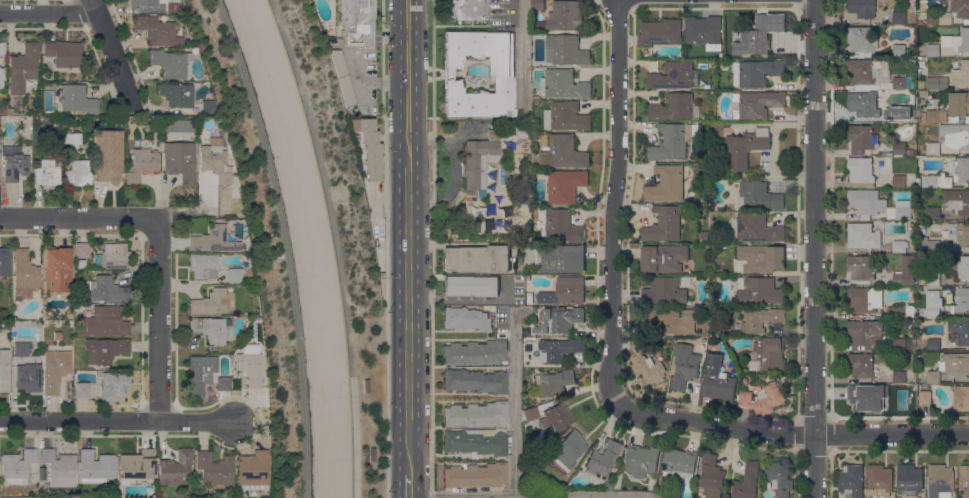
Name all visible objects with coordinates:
building: (142, 4)
building: (537, 4)
building: (171, 6)
building: (862, 8)
building: (960, 8)
building: (465, 10)
road: (49, 14)
building: (565, 15)
building: (899, 17)
building: (938, 17)
building: (354, 22)
building: (703, 30)
building: (158, 31)
building: (660, 33)
building: (755, 36)
building: (861, 39)
building: (958, 40)
building: (2, 48)
building: (565, 50)
building: (898, 50)
building: (933, 50)
road: (112, 52)
building: (921, 52)
building: (63, 53)
road: (524, 59)
building: (0, 61)
building: (171, 63)
building: (22, 68)
building: (755, 72)
building: (863, 72)
building: (961, 73)
building: (502, 75)
building: (672, 76)
building: (2, 77)
building: (341, 78)
building: (904, 82)
building: (937, 83)
road: (369, 84)
building: (563, 84)
building: (175, 95)
building: (535, 97)
building: (77, 100)
building: (862, 103)
building: (959, 103)
building: (756, 104)
building: (207, 106)
building: (672, 107)
building: (9, 112)
building: (918, 114)
building: (903, 115)
building: (936, 115)
building: (566, 116)
building: (10, 119)
building: (46, 122)
building: (726, 124)
building: (179, 126)
building: (522, 130)
building: (954, 136)
building: (861, 138)
building: (71, 139)
building: (671, 141)
building: (367, 148)
building: (899, 148)
building: (933, 148)
building: (742, 149)
building: (909, 151)
building: (563, 153)
building: (922, 156)
building: (108, 157)
building: (180, 161)
building: (478, 162)
building: (142, 163)
building: (13, 164)
building: (214, 166)
building: (960, 169)
building: (860, 171)
building: (47, 173)
building: (78, 173)
building: (898, 180)
building: (936, 180)
building: (918, 181)
building: (666, 184)
building: (565, 185)
building: (481, 194)
building: (756, 196)
building: (957, 201)
building: (866, 202)
building: (903, 209)
road: (612, 211)
building: (933, 213)
road: (78, 219)
building: (663, 225)
building: (562, 226)
building: (757, 228)
building: (959, 233)
building: (704, 235)
road: (407, 236)
building: (863, 236)
park: (342, 238)
building: (537, 238)
building: (215, 240)
road: (283, 244)
park: (259, 245)
building: (899, 245)
building: (933, 246)
road: (335, 248)
road: (386, 248)
road: (430, 249)
road: (813, 249)
building: (82, 250)
building: (112, 257)
building: (561, 257)
building: (663, 258)
building: (759, 258)
building: (477, 259)
building: (4, 262)
building: (203, 266)
building: (861, 267)
building: (962, 269)
building: (57, 270)
building: (905, 271)
building: (24, 275)
building: (234, 276)
building: (933, 279)
building: (471, 286)
building: (103, 290)
building: (759, 290)
building: (565, 291)
building: (664, 291)
building: (530, 298)
building: (865, 299)
building: (962, 300)
building: (213, 302)
building: (79, 308)
building: (490, 308)
building: (903, 311)
building: (933, 311)
building: (670, 318)
building: (759, 319)
building: (257, 320)
building: (466, 320)
building: (558, 320)
road: (157, 321)
building: (105, 322)
building: (212, 329)
building: (960, 331)
building: (865, 332)
building: (899, 343)
building: (933, 343)
building: (559, 349)
building: (23, 350)
building: (104, 350)
building: (476, 353)
building: (768, 355)
building: (646, 363)
building: (956, 364)
building: (249, 365)
building: (684, 365)
building: (861, 365)
building: (4, 371)
building: (55, 371)
building: (205, 376)
building: (899, 376)
building: (28, 377)
building: (933, 377)
building: (717, 379)
building: (475, 382)
building: (554, 382)
building: (366, 385)
building: (113, 386)
building: (913, 386)
building: (82, 390)
building: (865, 395)
building: (908, 397)
building: (924, 397)
building: (762, 398)
building: (962, 399)
road: (516, 403)
building: (530, 414)
building: (476, 415)
building: (557, 417)
road: (117, 421)
road: (802, 432)
building: (476, 442)
building: (567, 450)
building: (371, 453)
building: (603, 458)
building: (640, 460)
building: (679, 463)
building: (532, 465)
building: (17, 466)
building: (136, 466)
building: (95, 467)
building: (176, 469)
building: (214, 469)
building: (59, 470)
building: (252, 471)
building: (476, 476)
building: (710, 476)
building: (779, 478)
building: (909, 479)
building: (941, 479)
building: (851, 480)
building: (964, 480)
building: (879, 481)
building: (747, 482)
building: (663, 483)
road: (408, 486)
building: (607, 486)
building: (218, 493)
building: (153, 495)
road: (527, 497)
building: (780, 497)

